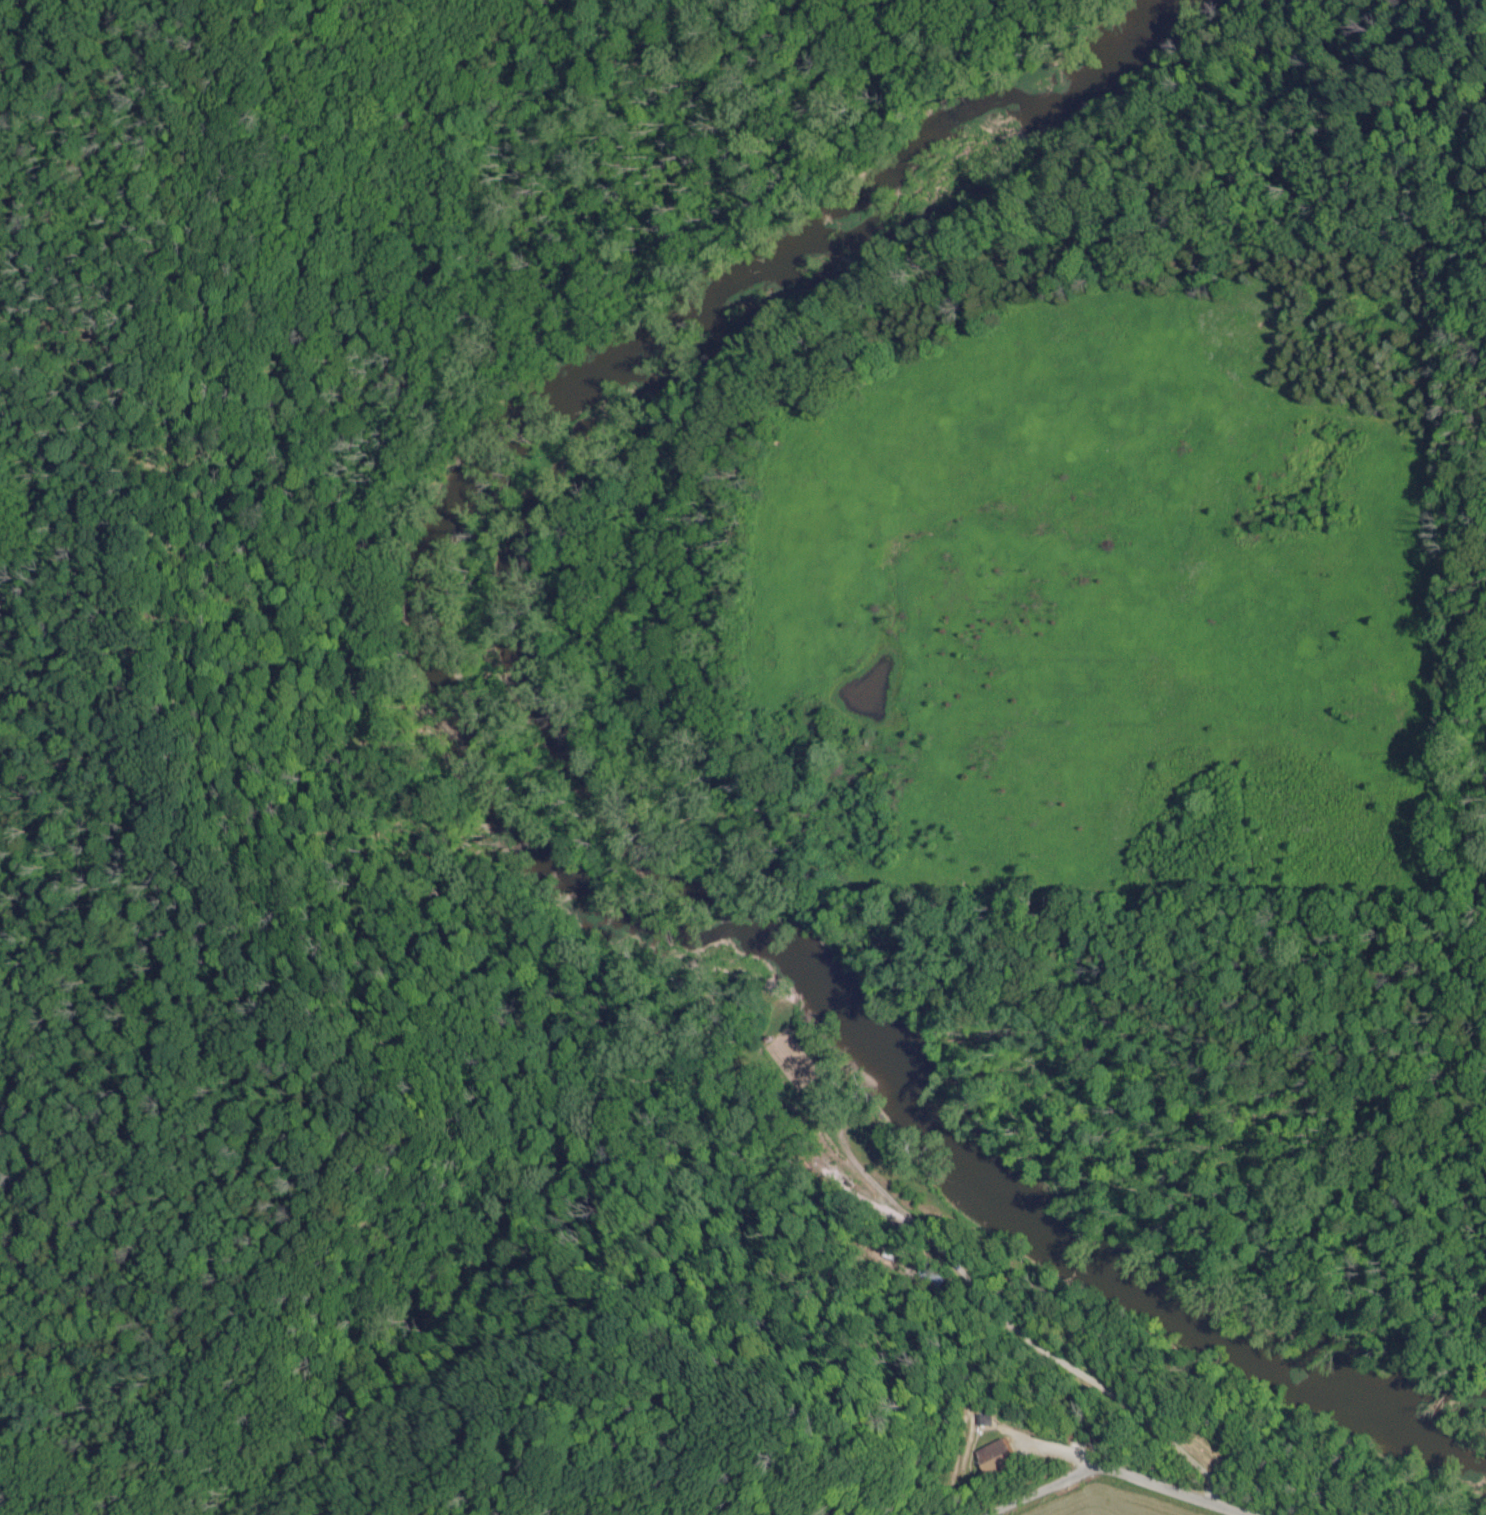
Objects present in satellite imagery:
building: (995, 1451)
road: (1053, 1493)
road: (1180, 1494)

